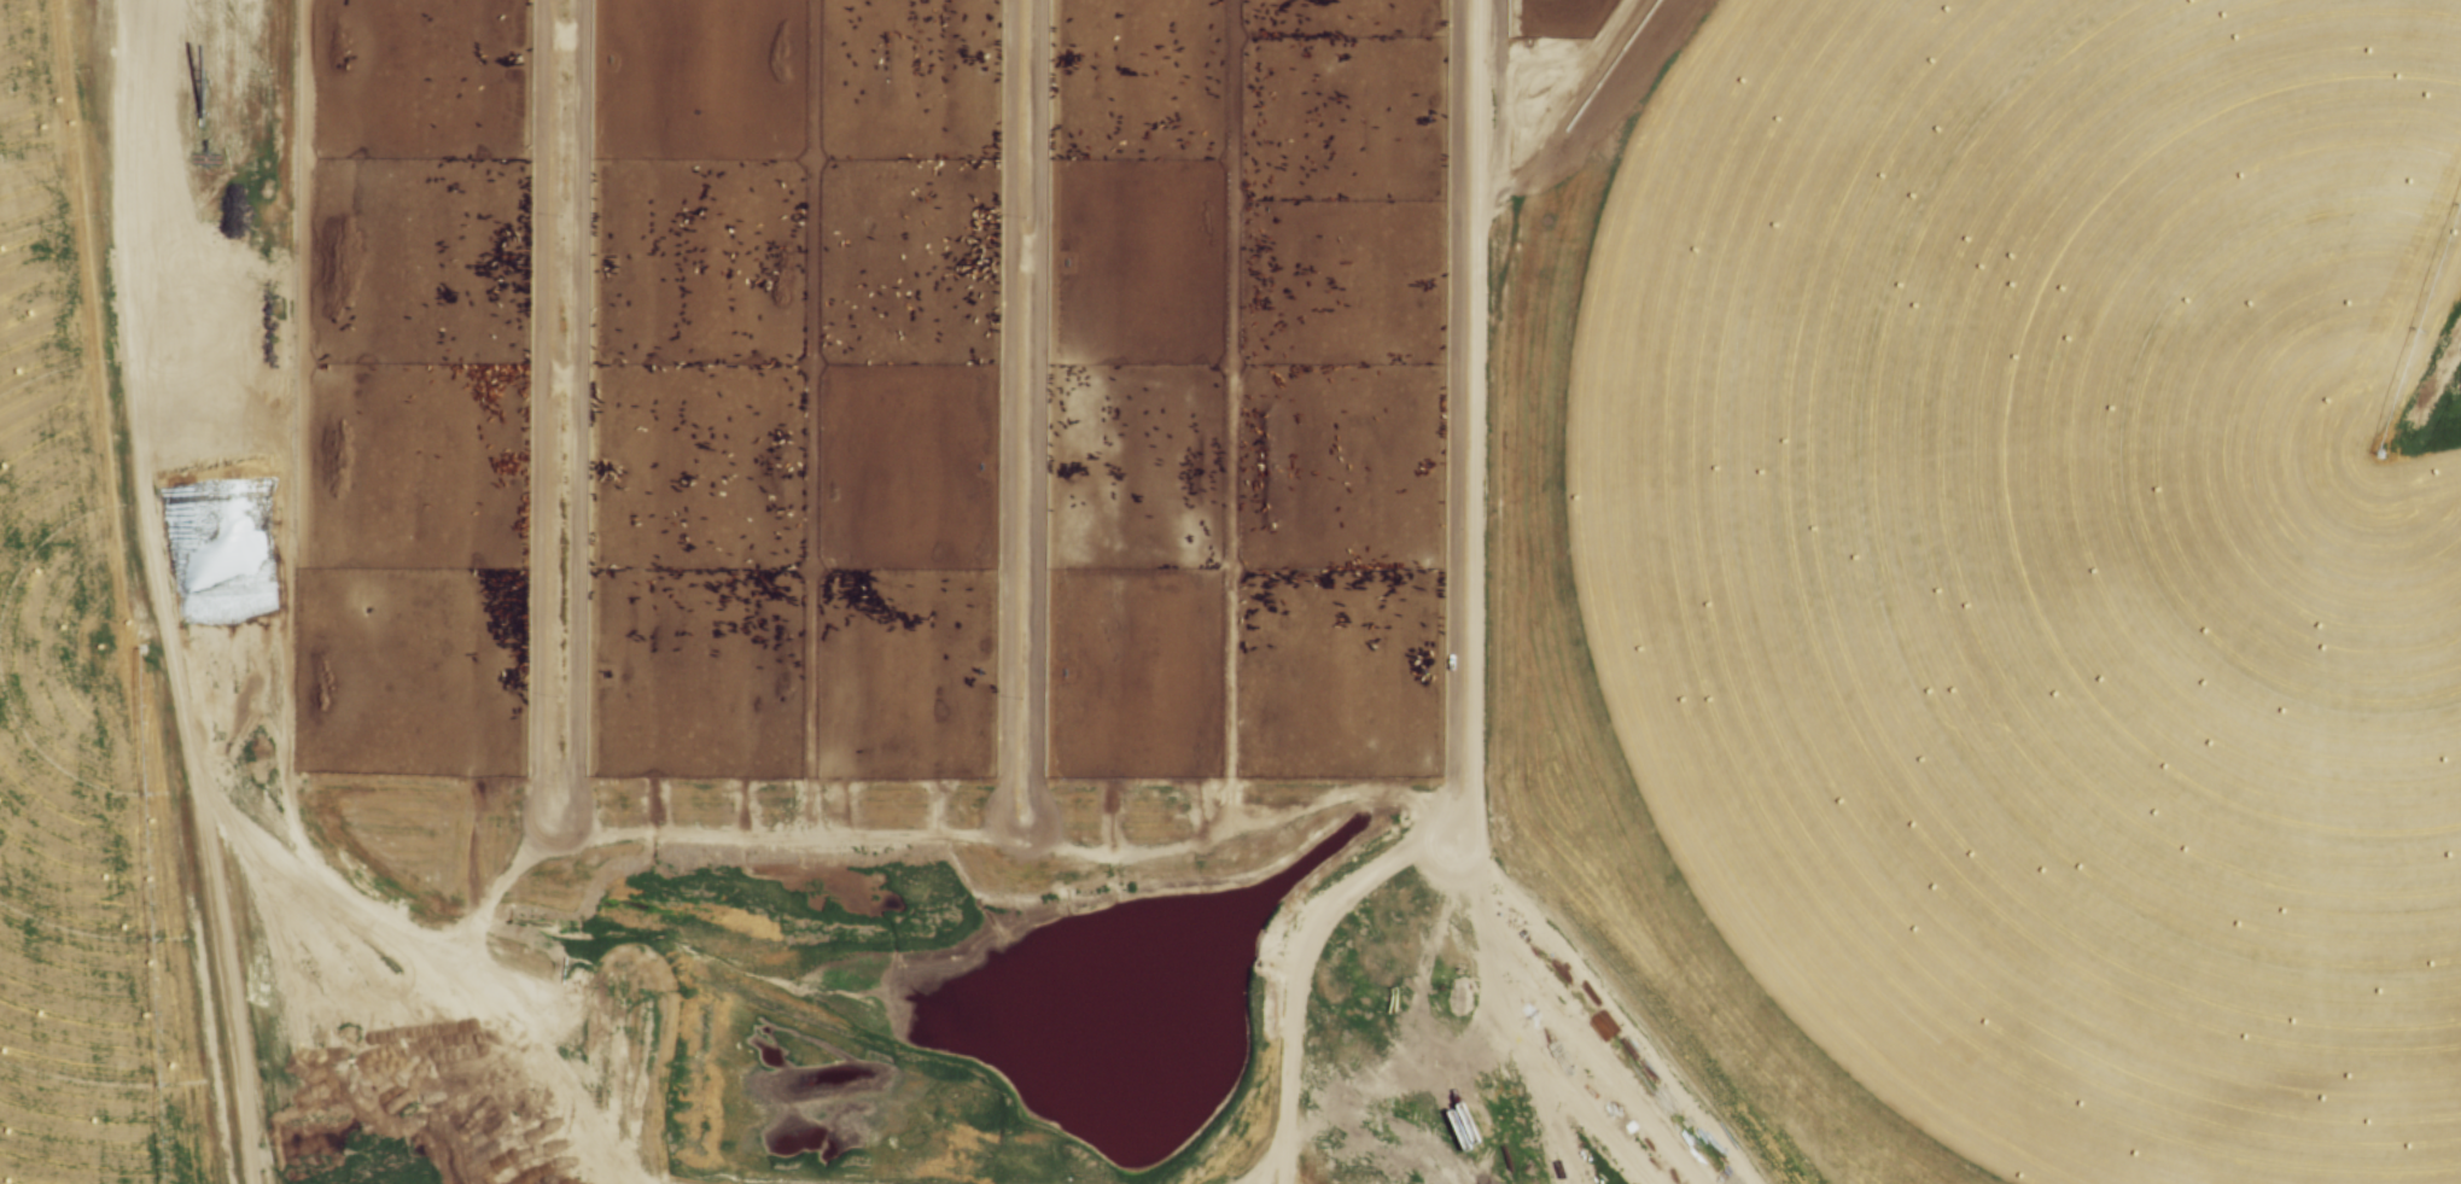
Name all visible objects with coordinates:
road: (282, 441)
crop: (1996, 581)
road: (1458, 626)
crop: (66, 676)
road: (173, 700)
road: (555, 842)
road: (1017, 845)

